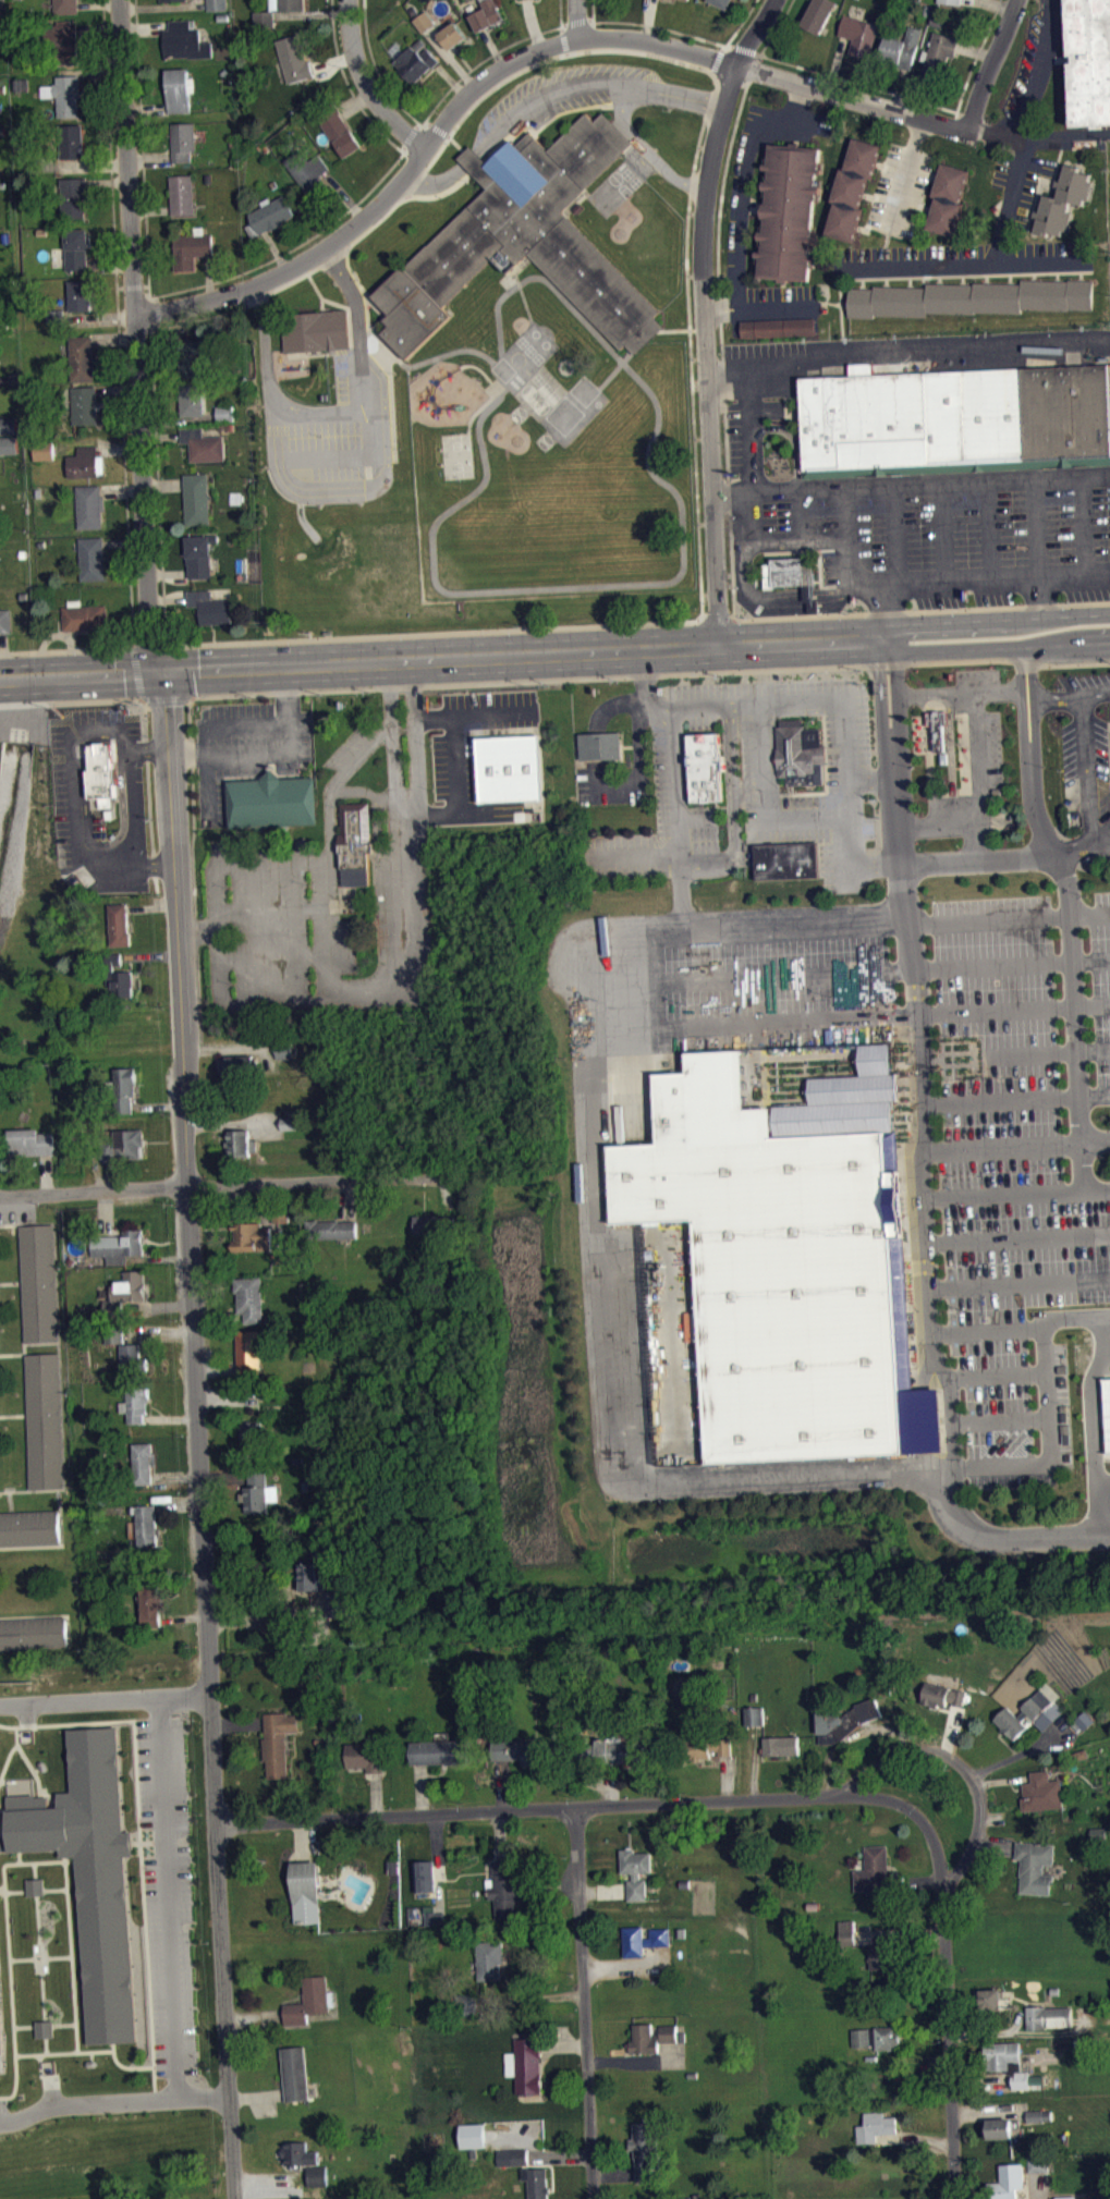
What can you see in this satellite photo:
building: (622, 0)
building: (953, 0)
building: (529, 2)
building: (676, 2)
building: (721, 2)
building: (173, 3)
road: (1002, 3)
road: (99, 4)
road: (163, 4)
building: (217, 4)
building: (292, 4)
building: (65, 5)
road: (593, 10)
road: (312, 12)
road: (560, 12)
building: (488, 13)
building: (818, 13)
building: (265, 16)
road: (577, 19)
road: (578, 19)
building: (425, 20)
road: (647, 20)
road: (741, 22)
road: (99, 25)
road: (145, 25)
building: (266, 26)
road: (660, 26)
building: (426, 28)
building: (453, 33)
building: (859, 33)
building: (186, 39)
road: (563, 39)
building: (64, 40)
building: (454, 42)
road: (729, 45)
road: (492, 46)
road: (721, 46)
building: (902, 46)
road: (539, 47)
road: (742, 47)
road: (976, 49)
road: (756, 51)
building: (939, 51)
building: (295, 57)
road: (452, 57)
road: (717, 58)
road: (333, 60)
building: (417, 60)
building: (1090, 60)
road: (481, 61)
road: (973, 61)
road: (835, 62)
road: (990, 64)
road: (377, 69)
road: (711, 70)
road: (1039, 71)
road: (100, 76)
road: (450, 77)
road: (367, 83)
road: (349, 84)
road: (591, 84)
road: (865, 84)
road: (899, 86)
building: (178, 88)
building: (68, 93)
road: (356, 98)
road: (146, 107)
road: (437, 126)
building: (339, 127)
road: (410, 134)
road: (1100, 134)
road: (1059, 138)
building: (72, 139)
building: (183, 139)
road: (731, 141)
road: (142, 148)
road: (645, 150)
road: (150, 157)
road: (473, 157)
road: (430, 160)
road: (1058, 161)
road: (879, 162)
road: (93, 163)
building: (309, 171)
road: (905, 174)
parking lot: (1021, 174)
road: (935, 175)
road: (108, 181)
road: (438, 181)
building: (852, 187)
parking lot: (901, 190)
building: (182, 193)
road: (344, 193)
building: (74, 195)
road: (868, 195)
road: (1035, 196)
building: (948, 198)
road: (1011, 198)
building: (1065, 198)
road: (688, 201)
road: (150, 208)
road: (927, 208)
road: (1023, 208)
building: (789, 211)
building: (272, 212)
road: (740, 215)
parking lot: (739, 216)
road: (863, 229)
building: (526, 237)
building: (76, 246)
building: (191, 247)
road: (291, 247)
road: (886, 247)
road: (275, 249)
parking lot: (964, 257)
road: (1039, 259)
road: (110, 262)
road: (919, 262)
road: (517, 273)
road: (954, 274)
road: (1081, 274)
road: (208, 276)
road: (1034, 276)
road: (1057, 276)
road: (1010, 277)
road: (939, 278)
road: (987, 278)
road: (963, 279)
road: (885, 281)
road: (910, 281)
road: (922, 281)
road: (862, 282)
road: (133, 284)
road: (317, 290)
road: (504, 292)
building: (80, 293)
building: (971, 297)
road: (156, 310)
road: (349, 313)
building: (56, 314)
road: (99, 315)
road: (366, 315)
road: (704, 316)
road: (840, 316)
road: (183, 321)
building: (773, 327)
building: (316, 329)
road: (682, 329)
road: (136, 334)
building: (779, 334)
road: (114, 338)
road: (387, 342)
road: (906, 350)
building: (198, 353)
building: (83, 356)
road: (722, 386)
road: (121, 387)
road: (118, 388)
road: (507, 388)
building: (193, 398)
building: (85, 403)
road: (393, 404)
building: (225, 412)
road: (320, 413)
road: (179, 418)
building: (955, 419)
building: (227, 420)
building: (8, 425)
parking lot: (336, 431)
road: (161, 435)
road: (793, 440)
road: (98, 441)
building: (204, 442)
building: (8, 444)
building: (45, 449)
road: (330, 455)
building: (45, 457)
building: (84, 461)
road: (695, 474)
road: (163, 482)
road: (911, 484)
road: (122, 489)
road: (356, 494)
building: (197, 497)
building: (90, 504)
road: (846, 511)
road: (800, 513)
road: (1082, 525)
road: (1037, 527)
road: (988, 529)
road: (942, 532)
road: (896, 534)
road: (125, 540)
parking lot: (966, 543)
road: (731, 547)
building: (199, 553)
road: (849, 554)
building: (93, 557)
road: (168, 571)
building: (783, 572)
road: (656, 579)
road: (1038, 596)
road: (168, 597)
building: (210, 606)
road: (922, 610)
road: (891, 612)
building: (85, 615)
road: (716, 618)
building: (5, 619)
road: (999, 619)
road: (57, 632)
road: (70, 632)
road: (150, 636)
road: (273, 638)
road: (1000, 646)
road: (2, 655)
road: (446, 657)
road: (652, 673)
parking lot: (1086, 682)
parking lot: (978, 685)
road: (894, 689)
road: (879, 691)
road: (959, 693)
road: (137, 697)
road: (1058, 698)
road: (72, 700)
road: (755, 701)
road: (1022, 701)
road: (1034, 701)
road: (611, 705)
building: (938, 725)
road: (206, 726)
road: (145, 730)
road: (414, 732)
road: (391, 734)
building: (600, 744)
road: (591, 745)
parking lot: (247, 746)
road: (272, 752)
parking lot: (1086, 752)
building: (800, 753)
parking lot: (986, 753)
road: (1088, 757)
road: (952, 759)
road: (929, 760)
road: (764, 761)
building: (706, 766)
building: (510, 767)
road: (641, 767)
building: (101, 771)
road: (979, 774)
parking lot: (66, 777)
road: (844, 780)
road: (870, 781)
road: (674, 783)
parking lot: (754, 785)
road: (72, 786)
building: (271, 799)
road: (730, 803)
road: (134, 806)
road: (735, 810)
road: (150, 818)
road: (806, 819)
road: (939, 826)
road: (1107, 833)
road: (99, 843)
building: (354, 843)
parking lot: (1106, 851)
road: (330, 852)
road: (639, 855)
building: (786, 859)
road: (977, 859)
road: (242, 860)
road: (193, 871)
road: (156, 882)
road: (153, 906)
road: (277, 906)
parking lot: (261, 917)
road: (1009, 919)
building: (119, 924)
road: (151, 954)
road: (279, 954)
road: (1074, 969)
road: (850, 970)
building: (119, 976)
road: (359, 999)
road: (851, 1016)
road: (229, 1047)
building: (286, 1048)
road: (1016, 1053)
building: (240, 1064)
building: (236, 1074)
building: (123, 1087)
road: (1018, 1099)
road: (157, 1104)
parking lot: (956, 1109)
building: (29, 1141)
building: (239, 1143)
road: (1017, 1144)
building: (123, 1145)
road: (45, 1173)
road: (221, 1184)
road: (1017, 1192)
road: (925, 1206)
road: (597, 1209)
parking lot: (16, 1211)
road: (105, 1211)
road: (24, 1223)
building: (437, 1223)
road: (9, 1224)
building: (330, 1227)
building: (247, 1232)
building: (332, 1237)
road: (1018, 1237)
building: (118, 1245)
building: (253, 1245)
building: (781, 1271)
road: (10, 1282)
building: (38, 1282)
road: (1020, 1282)
building: (125, 1292)
building: (249, 1297)
road: (987, 1329)
building: (115, 1342)
road: (1106, 1346)
building: (248, 1351)
road: (12, 1354)
building: (132, 1357)
road: (928, 1368)
road: (996, 1376)
building: (136, 1403)
road: (1046, 1404)
building: (1107, 1410)
road: (13, 1415)
road: (998, 1418)
building: (45, 1419)
road: (926, 1419)
road: (1091, 1422)
road: (198, 1434)
building: (251, 1437)
building: (143, 1462)
road: (932, 1476)
road: (1102, 1482)
road: (14, 1490)
building: (258, 1490)
road: (11, 1501)
building: (143, 1524)
building: (28, 1526)
road: (58, 1544)
building: (309, 1572)
building: (148, 1603)
building: (338, 1603)
road: (38, 1615)
building: (32, 1632)
building: (942, 1695)
road: (105, 1703)
building: (1022, 1713)
building: (753, 1715)
road: (27, 1717)
building: (844, 1719)
road: (146, 1720)
road: (8, 1726)
building: (278, 1742)
building: (780, 1745)
building: (706, 1746)
building: (517, 1750)
building: (610, 1750)
building: (439, 1751)
building: (365, 1755)
road: (959, 1762)
road: (8, 1764)
road: (4, 1781)
building: (1041, 1792)
road: (51, 1794)
road: (137, 1797)
road: (570, 1805)
road: (4, 1808)
road: (136, 1844)
road: (19, 1857)
building: (1034, 1866)
road: (34, 1870)
building: (634, 1870)
building: (873, 1870)
building: (89, 1871)
building: (423, 1876)
building: (35, 1885)
road: (65, 1886)
road: (2, 1889)
building: (504, 1890)
road: (16, 1891)
building: (306, 1891)
parking lot: (168, 1893)
building: (36, 1894)
road: (169, 1899)
building: (434, 1917)
road: (36, 1918)
building: (437, 1926)
building: (846, 1931)
road: (69, 1934)
building: (643, 1939)
road: (8, 1952)
building: (886, 1956)
road: (21, 1958)
building: (489, 1959)
building: (883, 1972)
road: (41, 1996)
building: (991, 1999)
building: (309, 2001)
road: (585, 2002)
building: (471, 2004)
road: (947, 2004)
building: (1047, 2016)
road: (62, 2024)
road: (24, 2026)
building: (42, 2028)
road: (74, 2035)
building: (44, 2037)
building: (650, 2037)
building: (876, 2037)
building: (669, 2041)
road: (44, 2044)
building: (865, 2045)
road: (98, 2050)
building: (1, 2051)
building: (1001, 2054)
road: (38, 2064)
building: (526, 2064)
road: (138, 2067)
building: (295, 2073)
building: (1022, 2079)
road: (154, 2094)
road: (113, 2101)
parking lot: (2, 2105)
building: (1038, 2115)
building: (876, 2126)
building: (1000, 2128)
building: (646, 2150)
building: (300, 2153)
building: (1038, 2164)
building: (514, 2165)
building: (1039, 2172)
building: (532, 2175)
building: (318, 2176)
building: (1007, 2182)
building: (1064, 2197)

